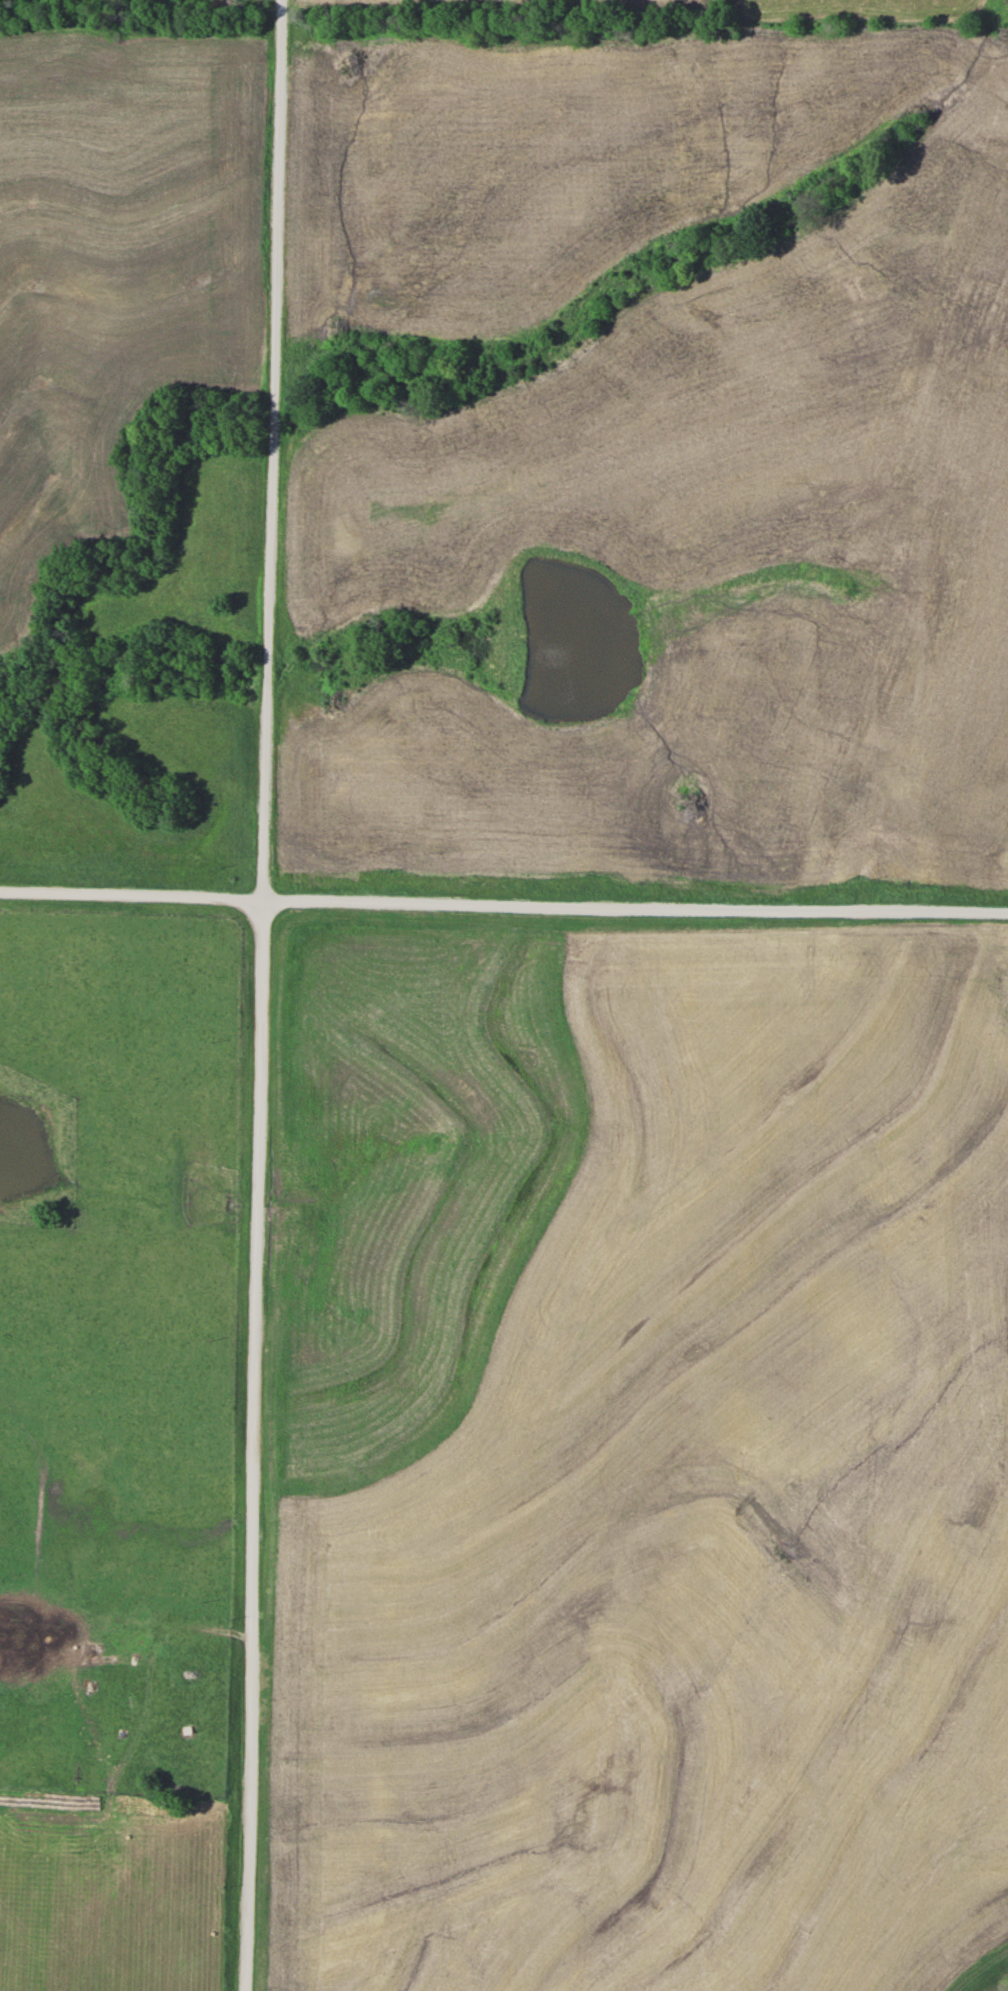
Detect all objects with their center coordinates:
road: (503, 936)
road: (253, 995)

